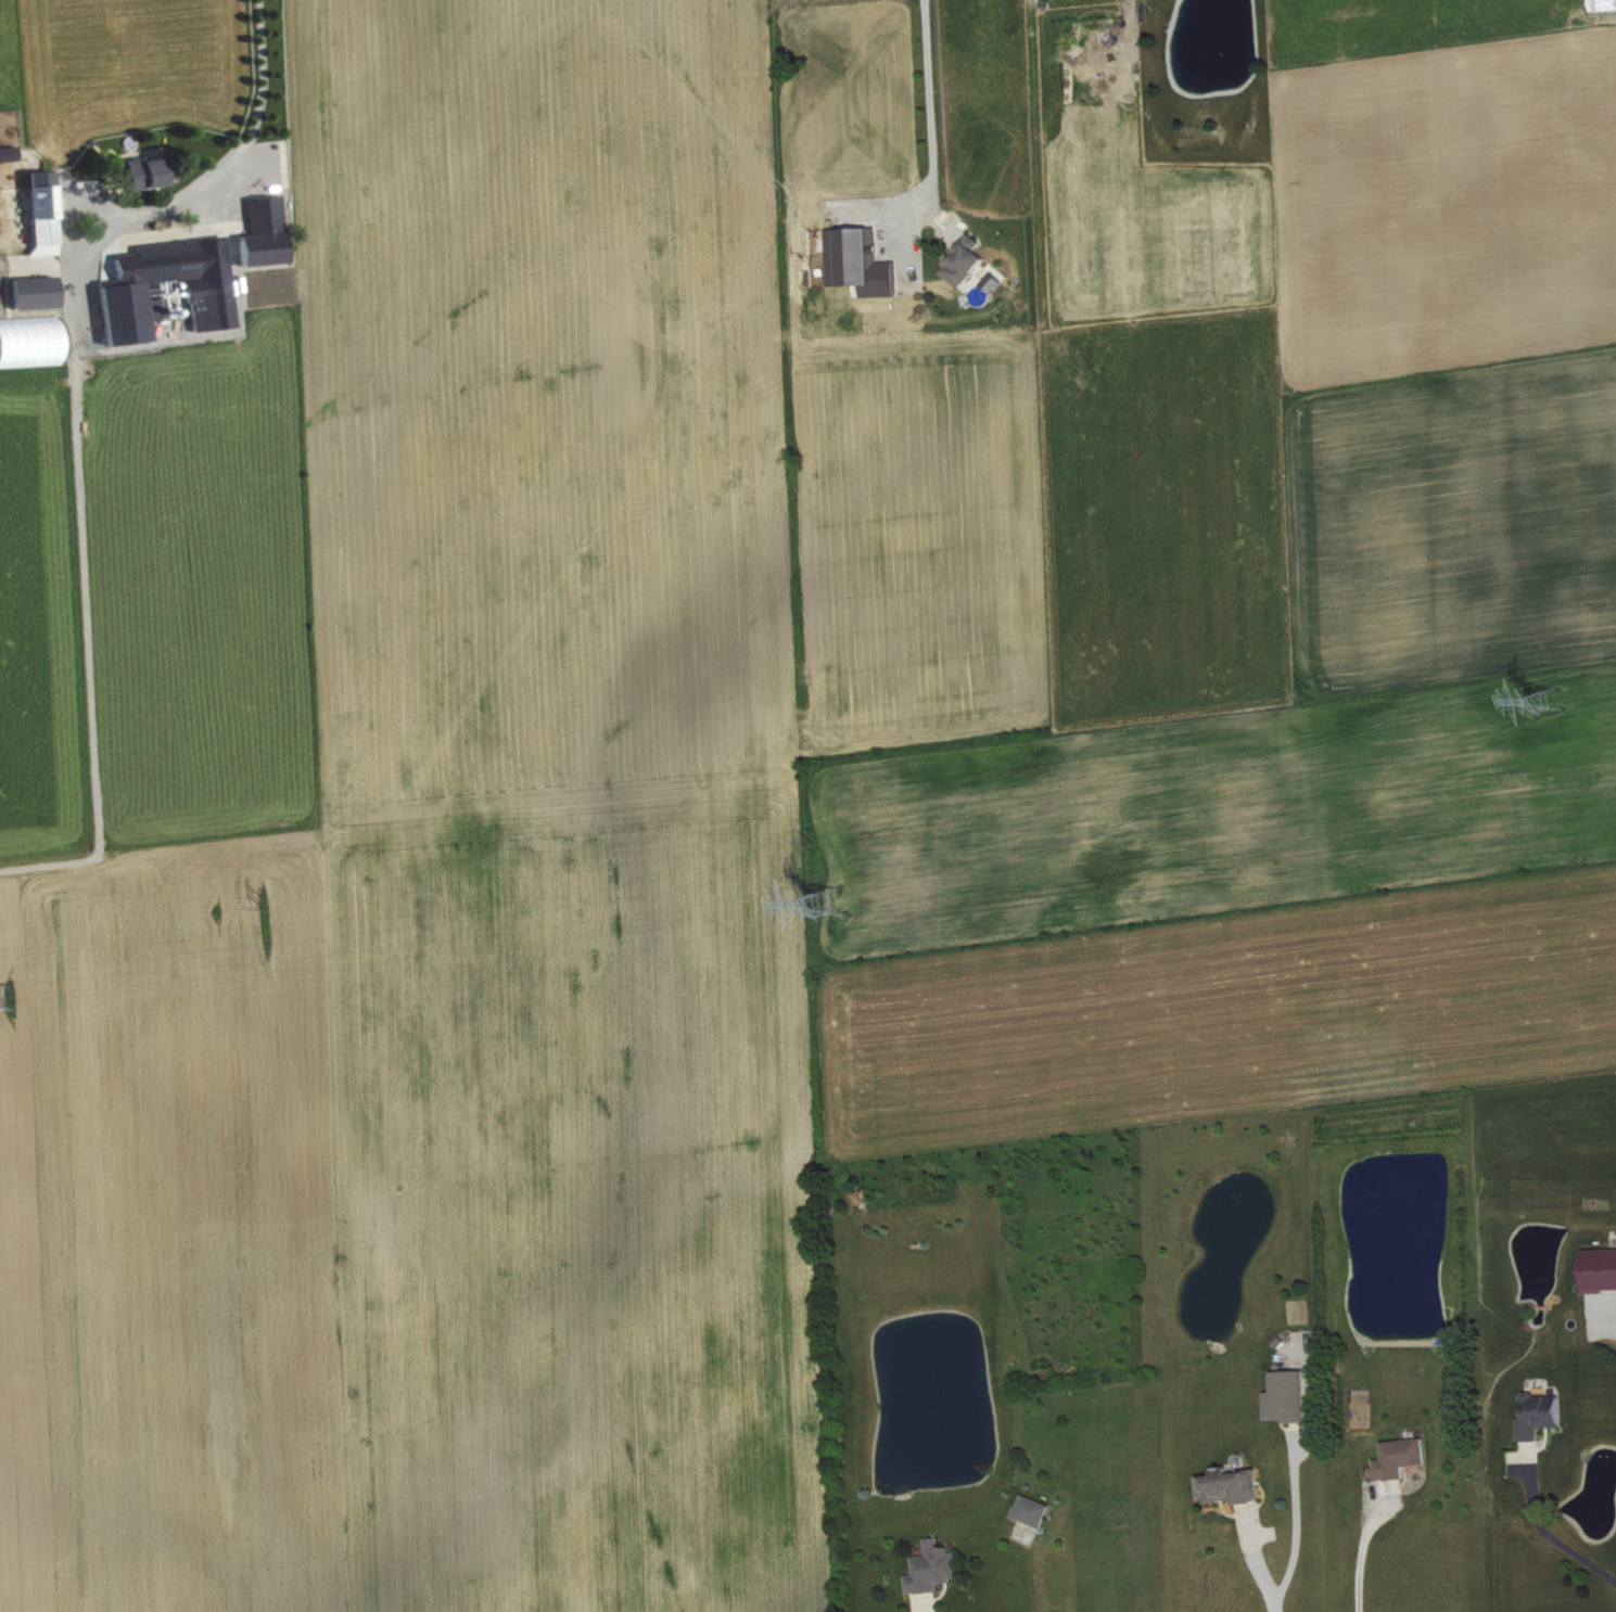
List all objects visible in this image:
road: (930, 98)
road: (256, 113)
building: (11, 154)
building: (150, 172)
building: (49, 212)
building: (1, 220)
building: (268, 232)
building: (970, 261)
building: (40, 293)
building: (207, 296)
building: (163, 308)
building: (31, 343)
power tower: (1303, 674)
power tower: (1547, 685)
power tower: (807, 807)
power tower: (260, 872)
power tower: (826, 879)
power tower: (5, 998)
building: (1602, 1270)
building: (1293, 1397)
building: (1545, 1416)
building: (1407, 1458)
building: (1236, 1486)
building: (1038, 1511)
road: (1295, 1532)
road: (1550, 1537)
road: (1360, 1556)
building: (939, 1569)
road: (921, 1603)

